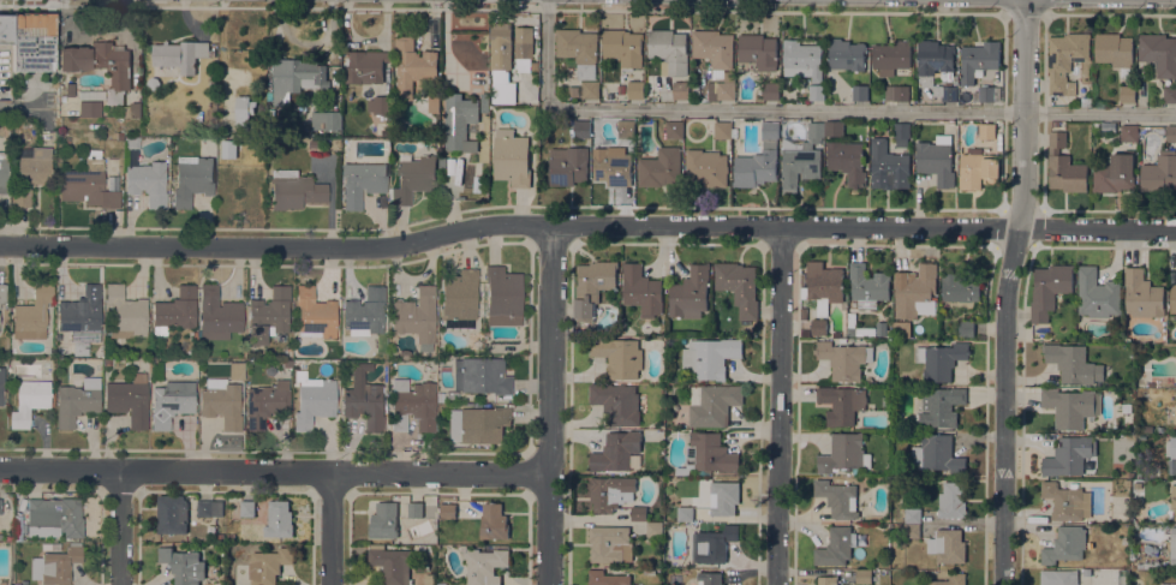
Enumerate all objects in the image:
road: (776, 11)
road: (1025, 11)
road: (1109, 13)
building: (5, 29)
building: (32, 42)
building: (523, 42)
building: (501, 46)
building: (622, 46)
building: (578, 49)
building: (669, 50)
building: (758, 50)
building: (1115, 50)
building: (1158, 53)
building: (180, 54)
building: (846, 54)
building: (890, 55)
building: (801, 59)
building: (978, 59)
building: (1065, 59)
building: (716, 60)
building: (101, 65)
building: (365, 66)
building: (412, 66)
building: (936, 66)
building: (297, 77)
building: (70, 89)
building: (590, 89)
building: (635, 89)
building: (680, 89)
building: (573, 90)
building: (771, 90)
building: (816, 91)
building: (860, 91)
building: (896, 91)
building: (986, 92)
building: (965, 94)
building: (1127, 94)
building: (1170, 94)
building: (91, 95)
building: (432, 100)
building: (1086, 101)
building: (484, 102)
building: (380, 105)
road: (6, 107)
building: (90, 108)
building: (131, 109)
road: (807, 109)
building: (243, 111)
building: (326, 120)
building: (459, 120)
building: (1096, 126)
building: (832, 127)
building: (581, 129)
building: (626, 129)
building: (674, 129)
building: (722, 130)
building: (986, 130)
building: (816, 131)
building: (1128, 132)
building: (1171, 132)
building: (901, 133)
building: (119, 136)
building: (131, 141)
building: (314, 143)
building: (119, 145)
building: (228, 148)
building: (512, 157)
building: (759, 159)
building: (847, 160)
building: (936, 161)
building: (798, 163)
building: (567, 165)
building: (611, 165)
building: (888, 166)
building: (1064, 166)
building: (4, 167)
building: (659, 167)
building: (706, 167)
building: (978, 168)
building: (31, 172)
building: (1115, 172)
building: (1159, 172)
building: (285, 173)
building: (414, 177)
building: (192, 178)
building: (147, 181)
building: (362, 183)
building: (88, 185)
building: (296, 191)
road: (586, 225)
building: (822, 285)
building: (867, 285)
building: (592, 286)
building: (739, 286)
building: (961, 288)
building: (1049, 288)
building: (641, 289)
road: (1008, 291)
building: (917, 292)
building: (2, 293)
building: (690, 293)
building: (1097, 293)
building: (1141, 293)
building: (503, 296)
building: (459, 298)
building: (1172, 298)
building: (174, 311)
building: (365, 311)
building: (125, 312)
building: (32, 314)
building: (315, 314)
building: (804, 314)
building: (217, 315)
building: (268, 315)
building: (416, 316)
building: (82, 317)
building: (818, 326)
building: (966, 327)
building: (62, 350)
building: (287, 351)
building: (619, 357)
building: (710, 357)
building: (843, 358)
building: (941, 359)
building: (287, 363)
building: (1073, 363)
building: (482, 375)
building: (1, 383)
building: (225, 396)
building: (440, 396)
building: (129, 399)
building: (314, 399)
building: (29, 401)
building: (77, 401)
building: (414, 401)
building: (267, 402)
building: (364, 402)
building: (616, 402)
building: (171, 404)
building: (712, 404)
building: (841, 404)
road: (554, 405)
road: (780, 406)
building: (939, 407)
building: (1071, 407)
building: (1175, 412)
building: (478, 424)
building: (1170, 447)
building: (616, 450)
building: (844, 453)
building: (936, 453)
building: (708, 454)
building: (1069, 455)
road: (276, 472)
building: (610, 491)
building: (723, 497)
building: (837, 497)
building: (951, 500)
building: (1067, 501)
building: (1174, 501)
building: (0, 506)
building: (209, 507)
building: (247, 508)
building: (414, 509)
building: (448, 511)
building: (172, 513)
building: (638, 513)
building: (685, 513)
building: (912, 514)
building: (54, 517)
building: (279, 519)
building: (383, 520)
building: (493, 521)
road: (123, 527)
road: (334, 529)
building: (653, 529)
building: (911, 530)
building: (0, 536)
building: (220, 537)
building: (231, 537)
building: (609, 543)
building: (716, 543)
building: (495, 544)
building: (1064, 544)
building: (947, 545)
building: (1172, 545)
building: (50, 547)
building: (834, 547)
building: (392, 563)
building: (1158, 563)
building: (55, 565)
building: (183, 565)
building: (268, 565)
building: (1147, 565)
building: (485, 566)
building: (1087, 571)
building: (864, 575)
building: (1057, 577)
building: (429, 578)
building: (607, 578)
building: (709, 578)
building: (826, 580)
building: (948, 580)
building: (441, 584)

